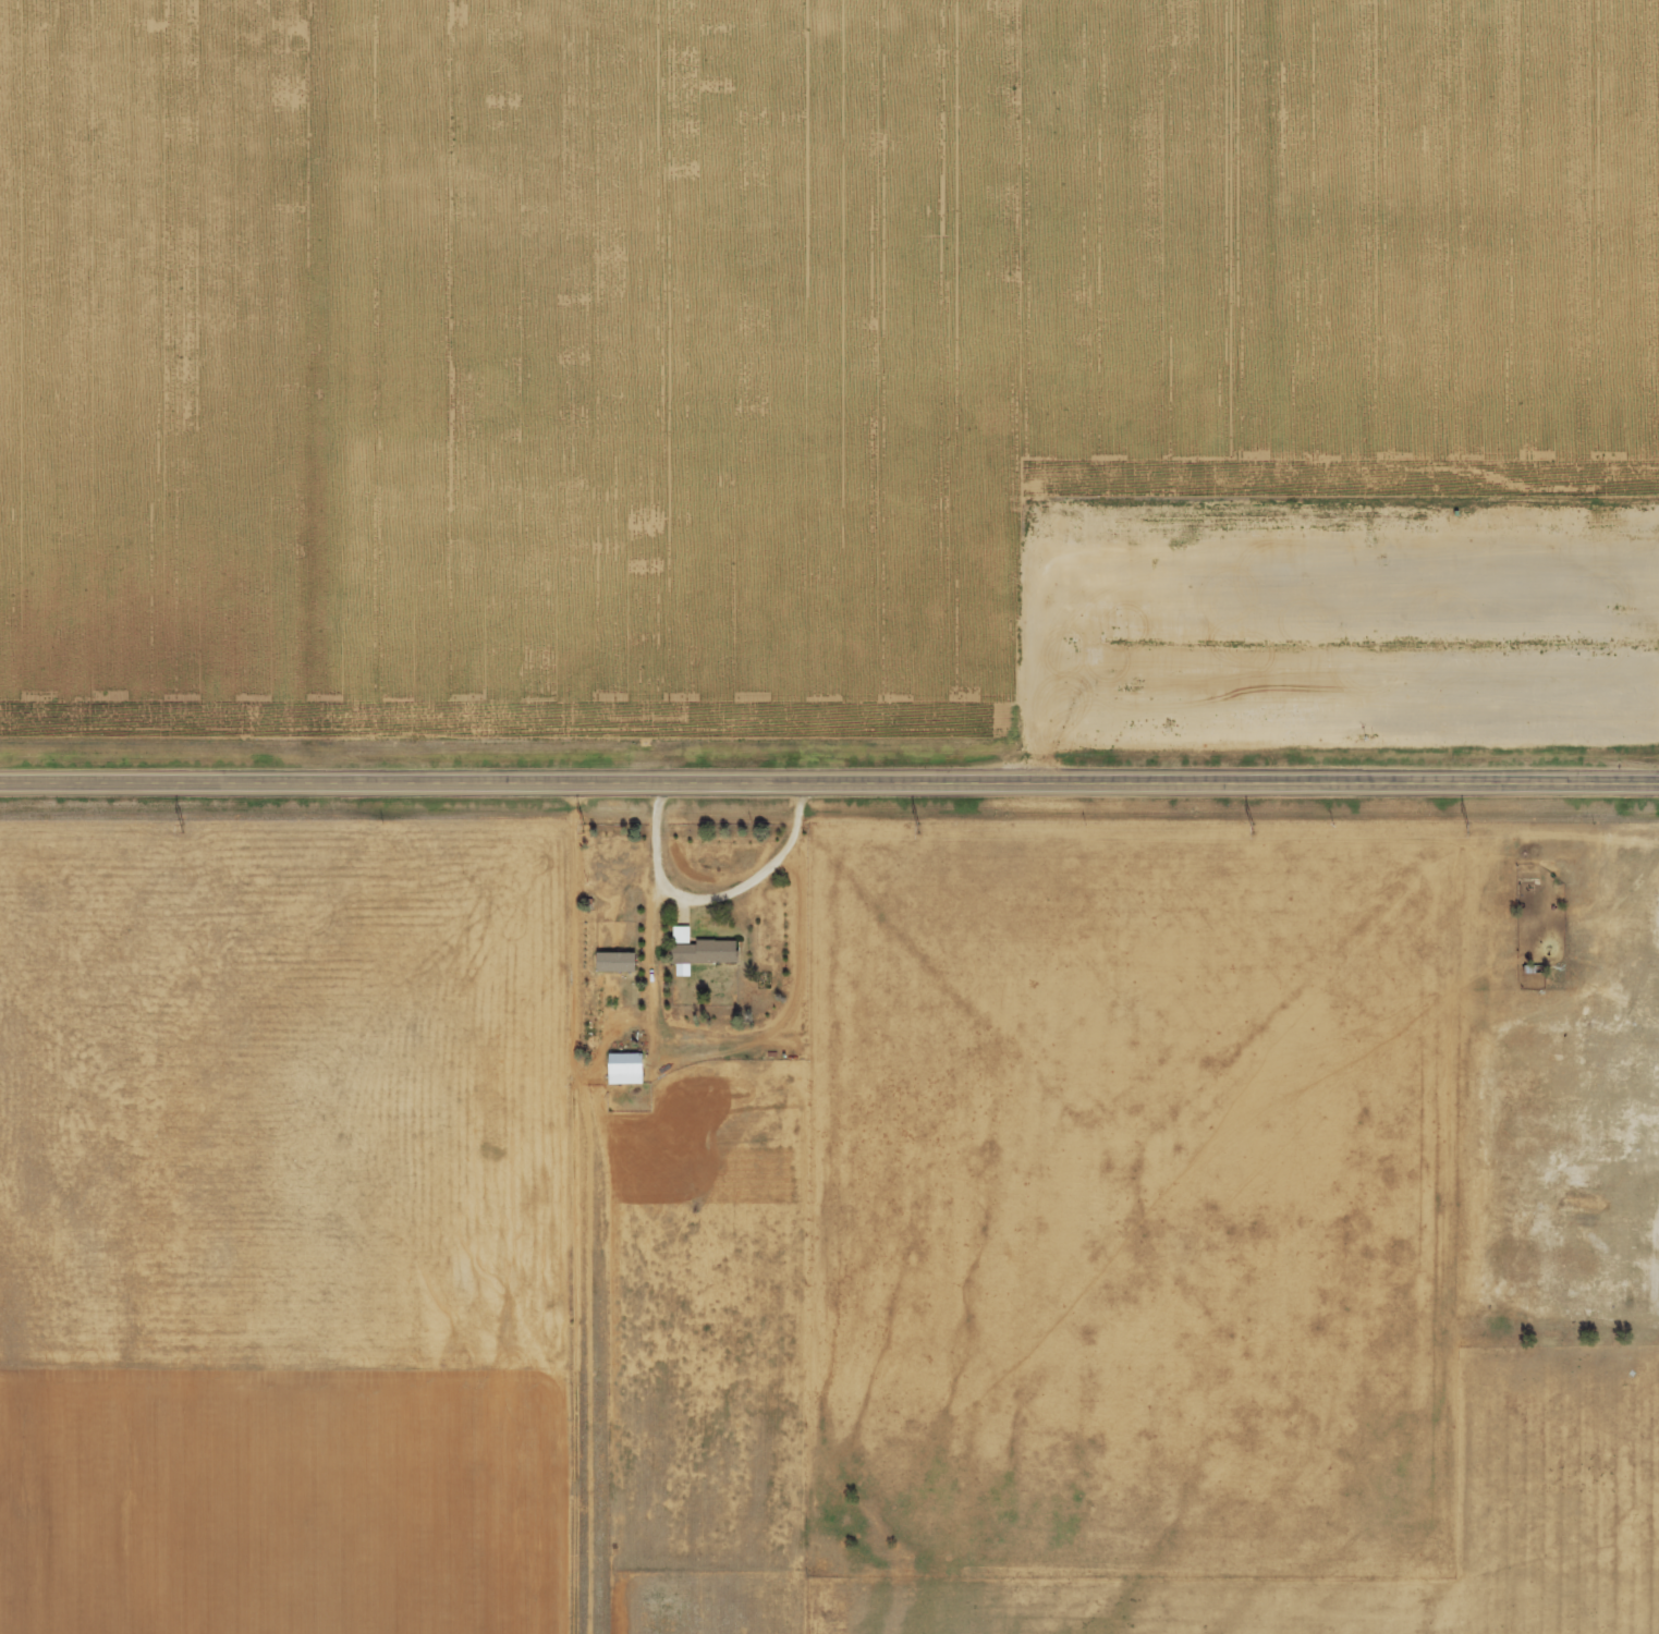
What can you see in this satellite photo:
road: (829, 783)
power tower: (183, 828)
power tower: (917, 828)
power tower: (1255, 828)
power tower: (1472, 828)
power tower: (585, 829)
road: (718, 901)
building: (703, 950)
building: (618, 962)
building: (627, 1069)

